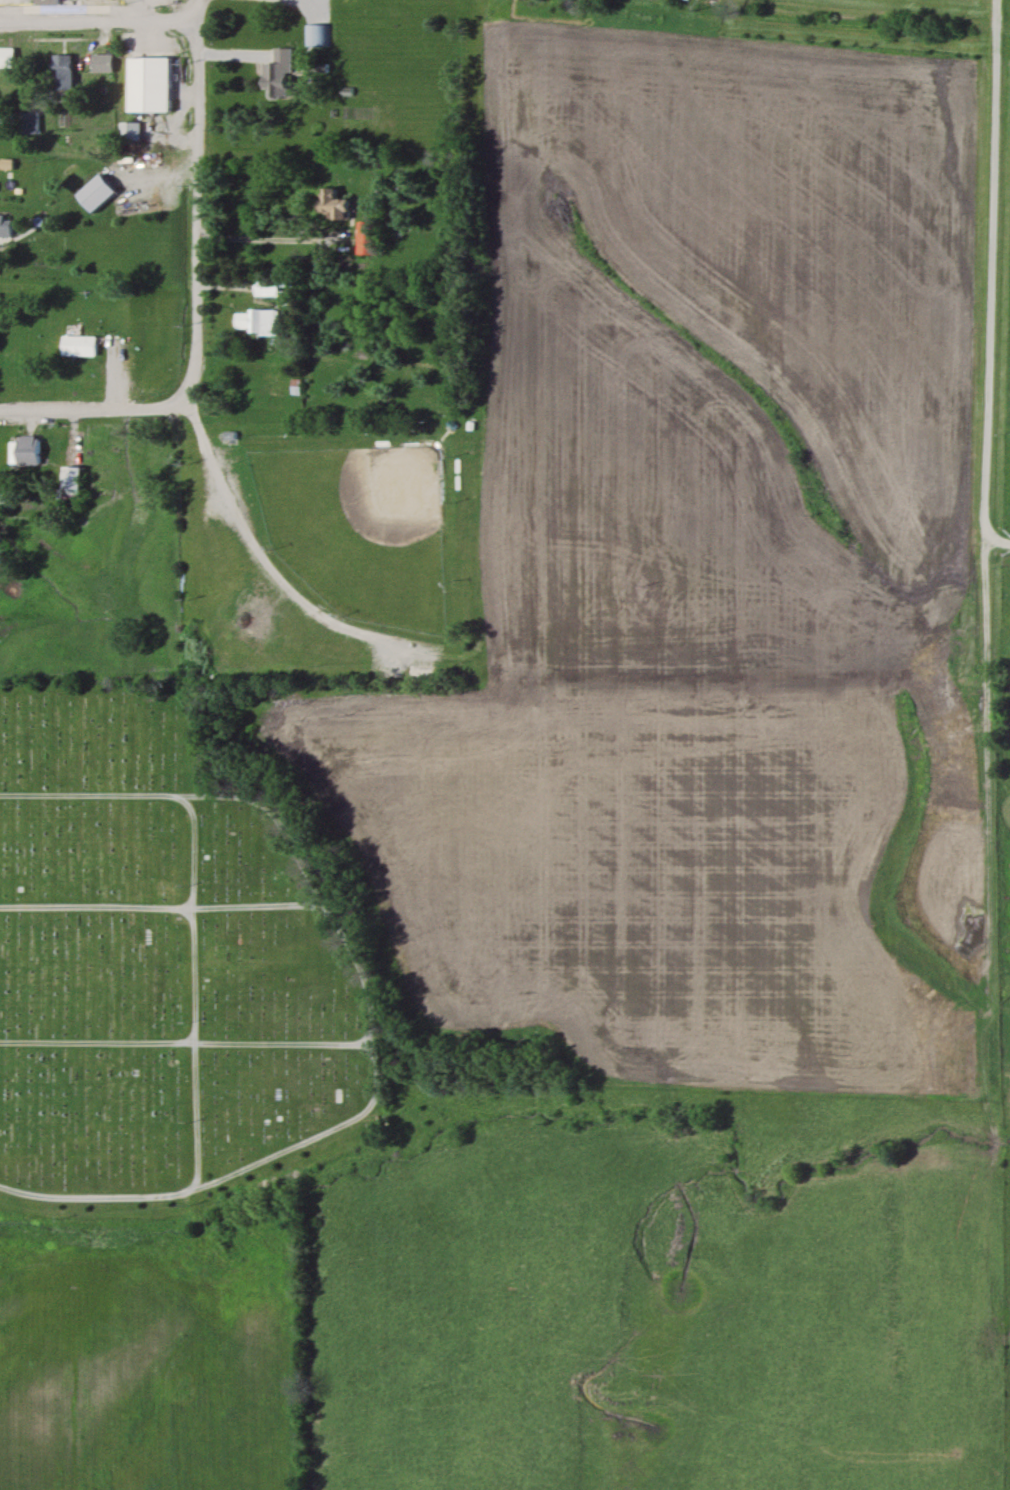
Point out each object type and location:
road: (299, 0)
building: (48, 2)
road: (191, 11)
road: (991, 14)
road: (96, 22)
building: (312, 35)
building: (6, 58)
building: (101, 64)
building: (61, 73)
building: (275, 75)
building: (147, 85)
building: (26, 124)
building: (122, 131)
building: (94, 194)
building: (336, 205)
road: (188, 211)
building: (4, 226)
building: (362, 238)
road: (982, 286)
building: (264, 289)
building: (255, 321)
building: (76, 345)
road: (90, 410)
building: (26, 450)
building: (71, 482)
building: (4, 498)
road: (187, 796)
park: (165, 959)
road: (188, 989)
road: (366, 1035)
road: (184, 1041)

